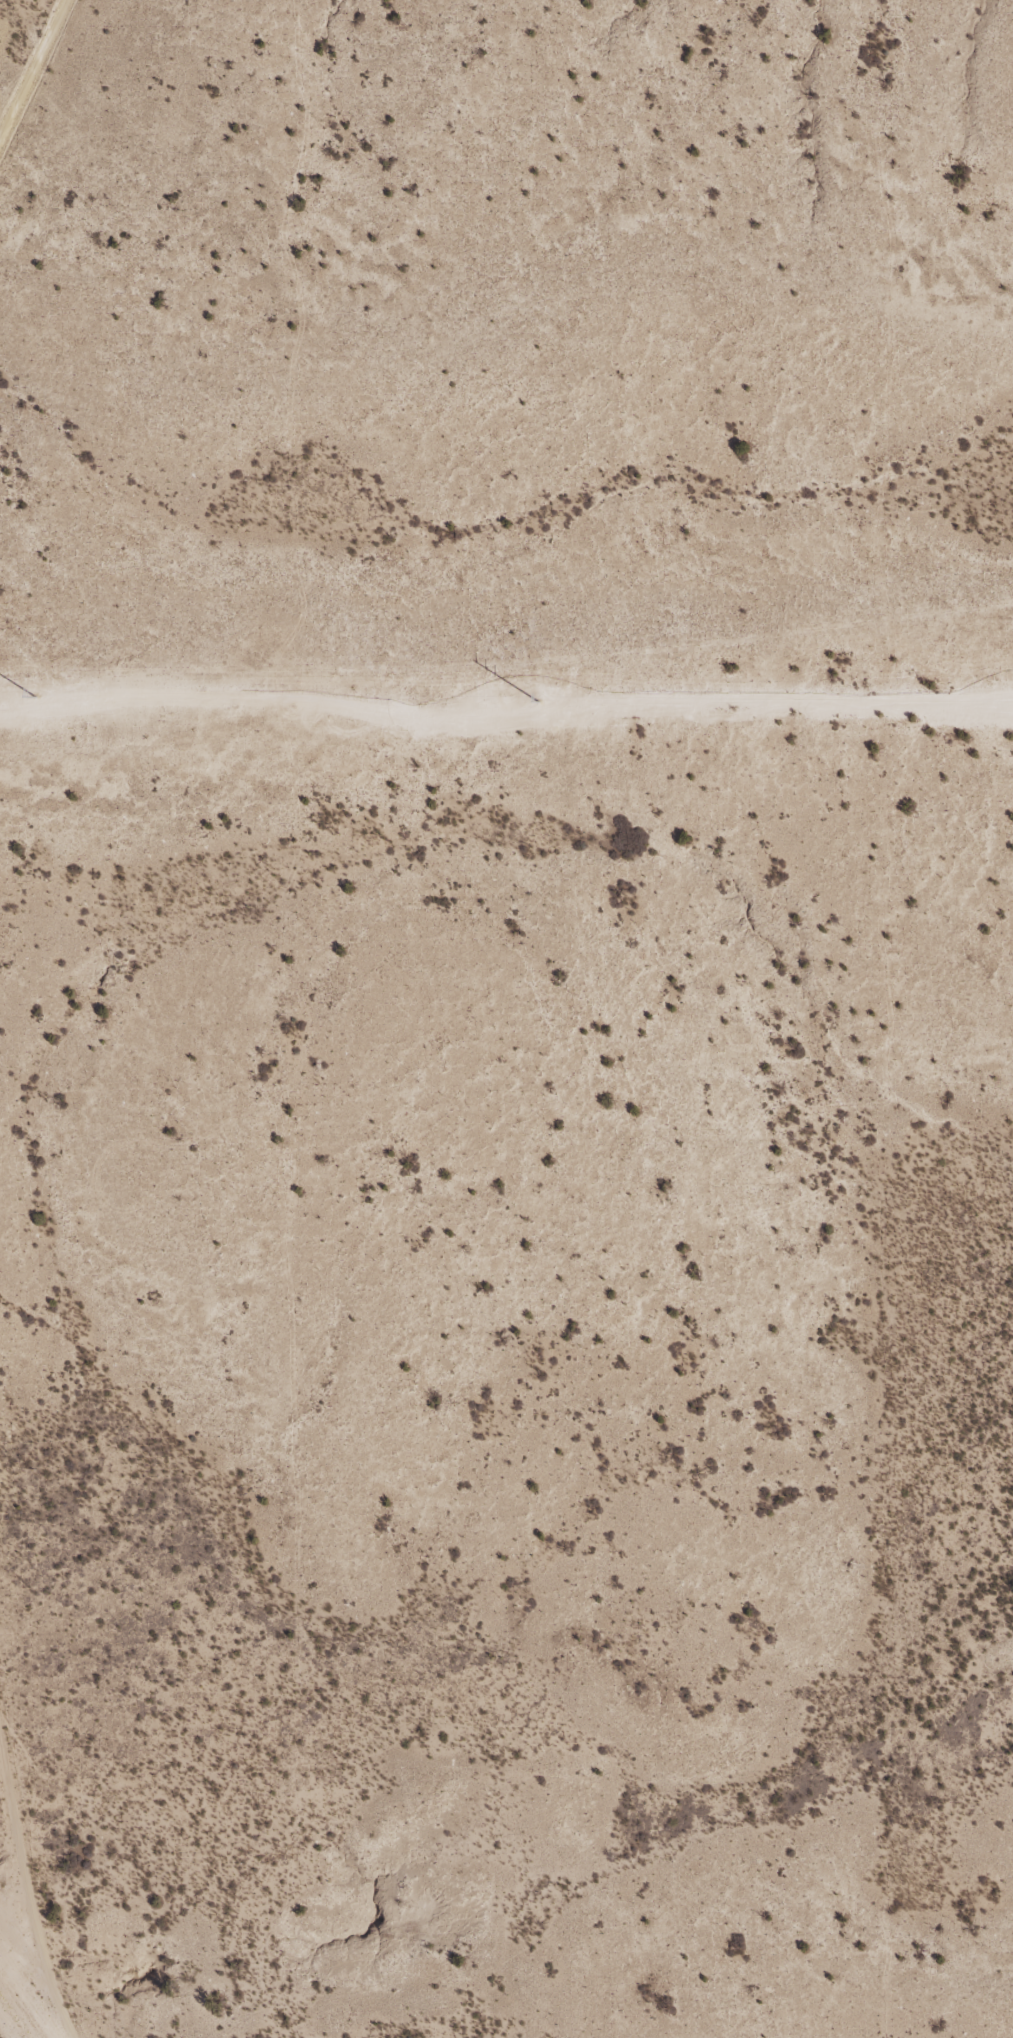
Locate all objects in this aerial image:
road: (34, 66)
power tower: (487, 704)
road: (5, 1708)
road: (43, 1833)

